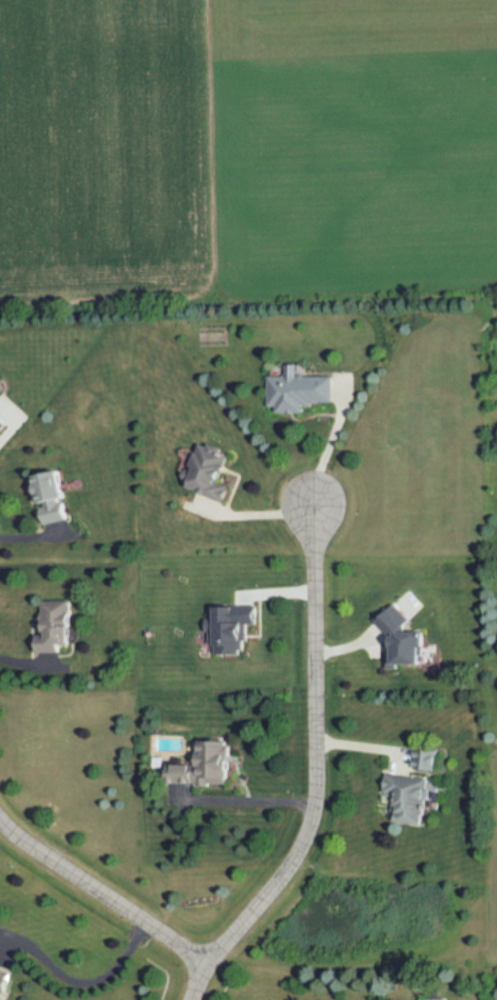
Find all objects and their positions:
building: (0, 389)
building: (297, 389)
building: (1, 424)
road: (329, 435)
building: (205, 471)
building: (49, 494)
road: (250, 513)
road: (58, 528)
road: (41, 534)
building: (53, 625)
building: (229, 626)
building: (399, 637)
road: (47, 659)
road: (32, 663)
road: (358, 745)
building: (424, 758)
road: (399, 760)
building: (203, 764)
road: (311, 769)
building: (407, 797)
road: (239, 799)
road: (101, 892)
building: (4, 979)
road: (78, 979)
building: (430, 998)

